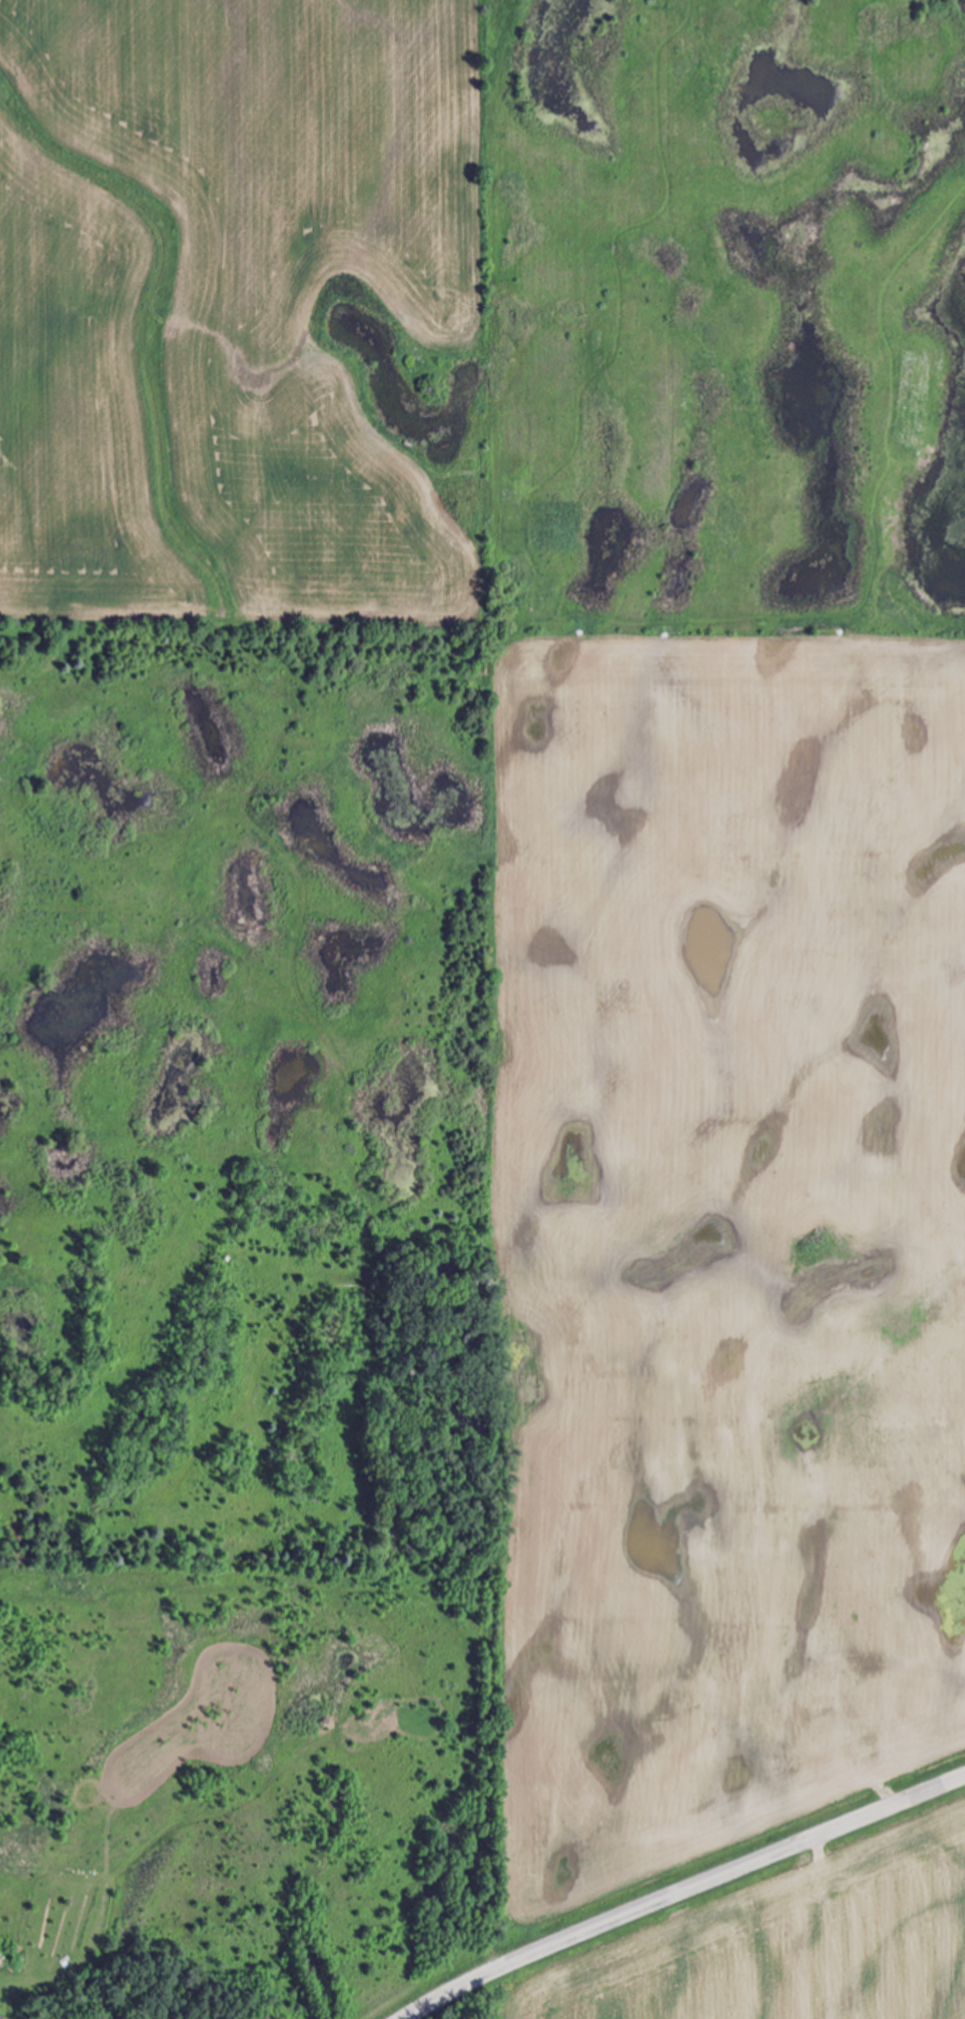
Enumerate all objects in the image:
road: (680, 1891)

